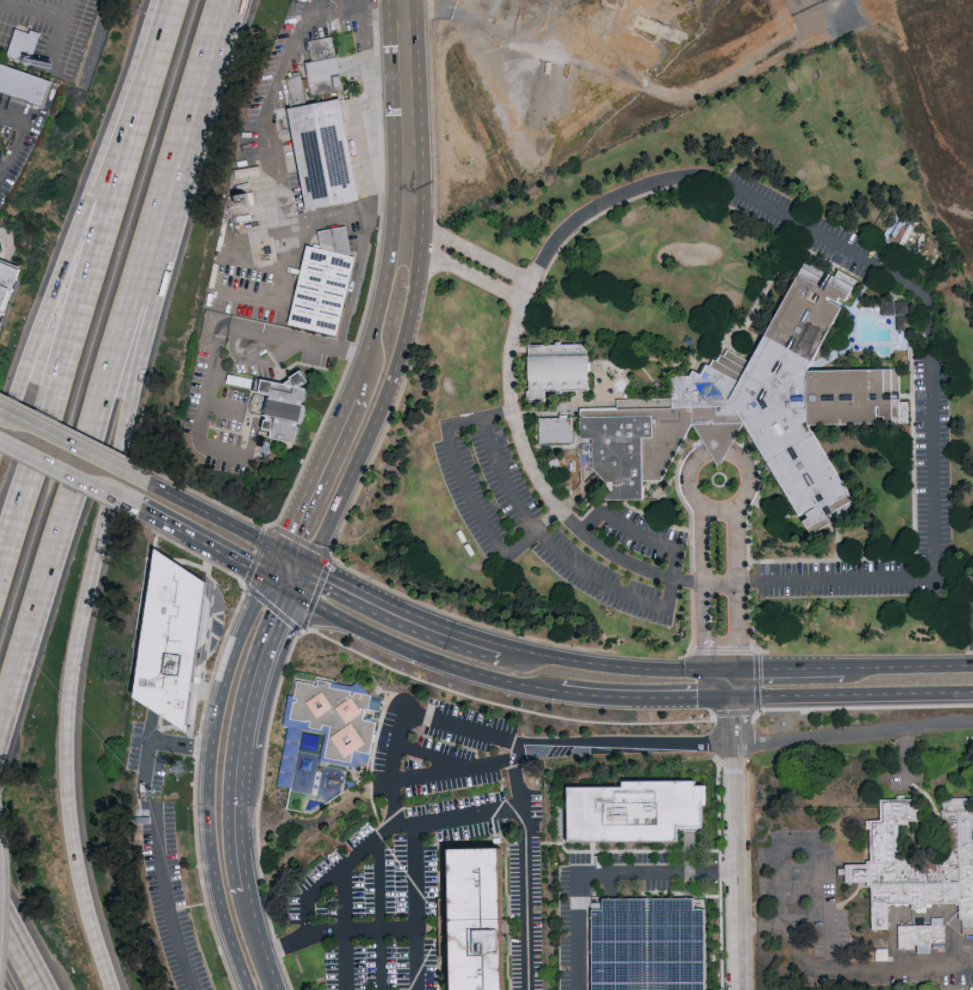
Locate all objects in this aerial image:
road: (403, 4)
road: (3, 10)
road: (36, 10)
road: (62, 32)
building: (25, 45)
building: (326, 60)
airport: (685, 83)
building: (23, 84)
building: (299, 89)
road: (404, 123)
road: (268, 127)
road: (24, 131)
building: (327, 154)
road: (86, 220)
building: (903, 230)
road: (10, 240)
road: (471, 251)
road: (458, 273)
building: (6, 282)
road: (356, 285)
road: (530, 286)
road: (84, 291)
building: (324, 293)
road: (280, 294)
road: (380, 297)
road: (408, 303)
building: (899, 311)
road: (216, 354)
road: (257, 361)
road: (114, 369)
building: (560, 370)
road: (360, 377)
road: (231, 379)
building: (286, 398)
road: (225, 408)
building: (759, 408)
road: (497, 415)
building: (285, 432)
building: (559, 432)
road: (450, 438)
road: (70, 441)
road: (722, 453)
road: (64, 469)
road: (349, 469)
road: (317, 473)
road: (111, 492)
road: (143, 510)
road: (210, 514)
road: (548, 521)
road: (932, 521)
road: (214, 548)
road: (702, 552)
traffic signals: (280, 554)
road: (292, 561)
road: (274, 567)
traffic signals: (305, 569)
traffic signals: (269, 581)
road: (300, 583)
road: (282, 589)
road: (738, 590)
traffic signals: (295, 597)
road: (670, 602)
road: (402, 614)
road: (310, 619)
road: (705, 637)
building: (168, 641)
road: (424, 652)
road: (554, 659)
road: (908, 663)
road: (785, 665)
road: (704, 667)
traffic signals: (727, 667)
road: (643, 668)
road: (263, 670)
road: (728, 680)
road: (851, 692)
traffic signals: (730, 694)
road: (644, 696)
road: (502, 704)
road: (733, 719)
road: (854, 733)
road: (627, 740)
building: (324, 744)
road: (909, 755)
road: (457, 766)
power tower: (177, 773)
road: (236, 773)
road: (430, 775)
road: (209, 782)
building: (644, 810)
road: (493, 813)
road: (398, 815)
road: (157, 833)
road: (240, 847)
road: (807, 848)
road: (736, 867)
building: (919, 867)
road: (596, 870)
road: (528, 898)
road: (417, 906)
road: (381, 913)
building: (477, 921)
road: (346, 927)
road: (362, 929)
building: (925, 939)
road: (257, 941)
building: (649, 945)
road: (21, 949)
road: (845, 972)

